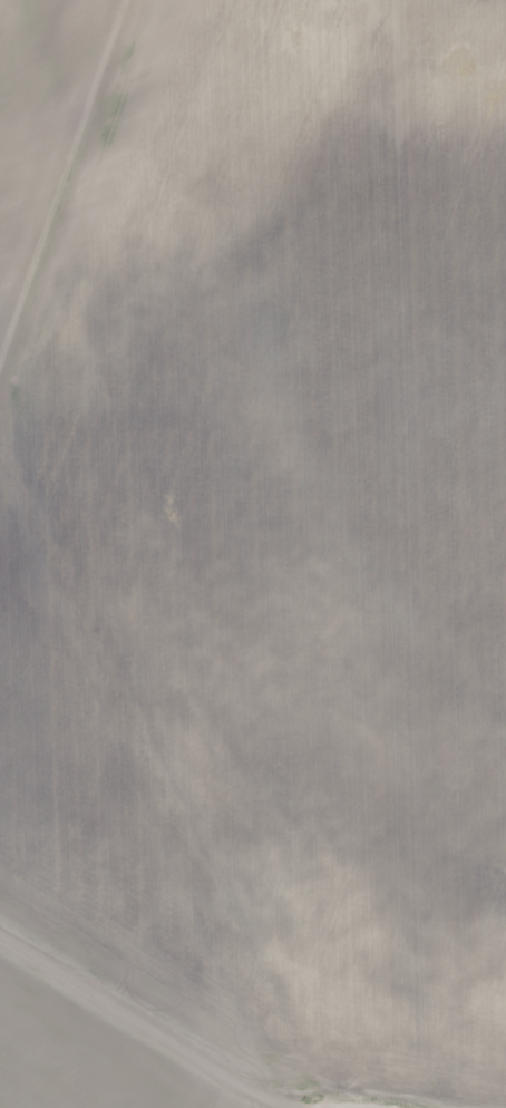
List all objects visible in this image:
road: (159, 1037)

